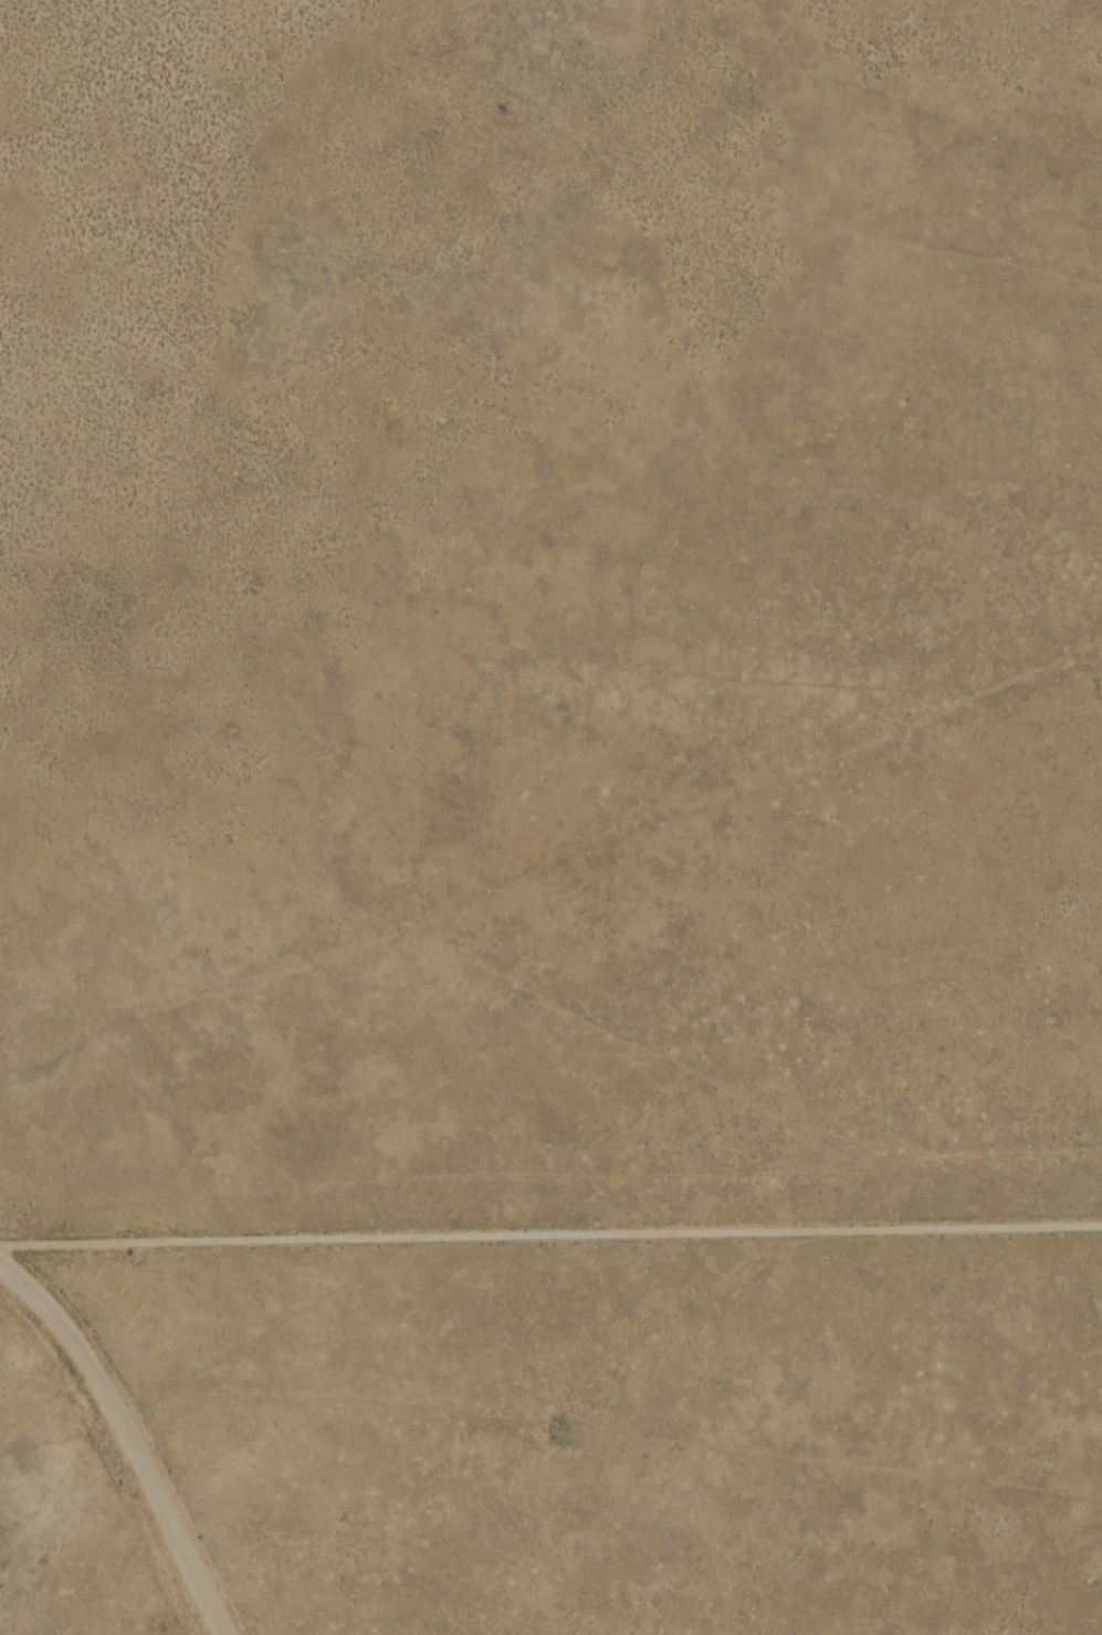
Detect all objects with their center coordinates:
road: (127, 1436)

